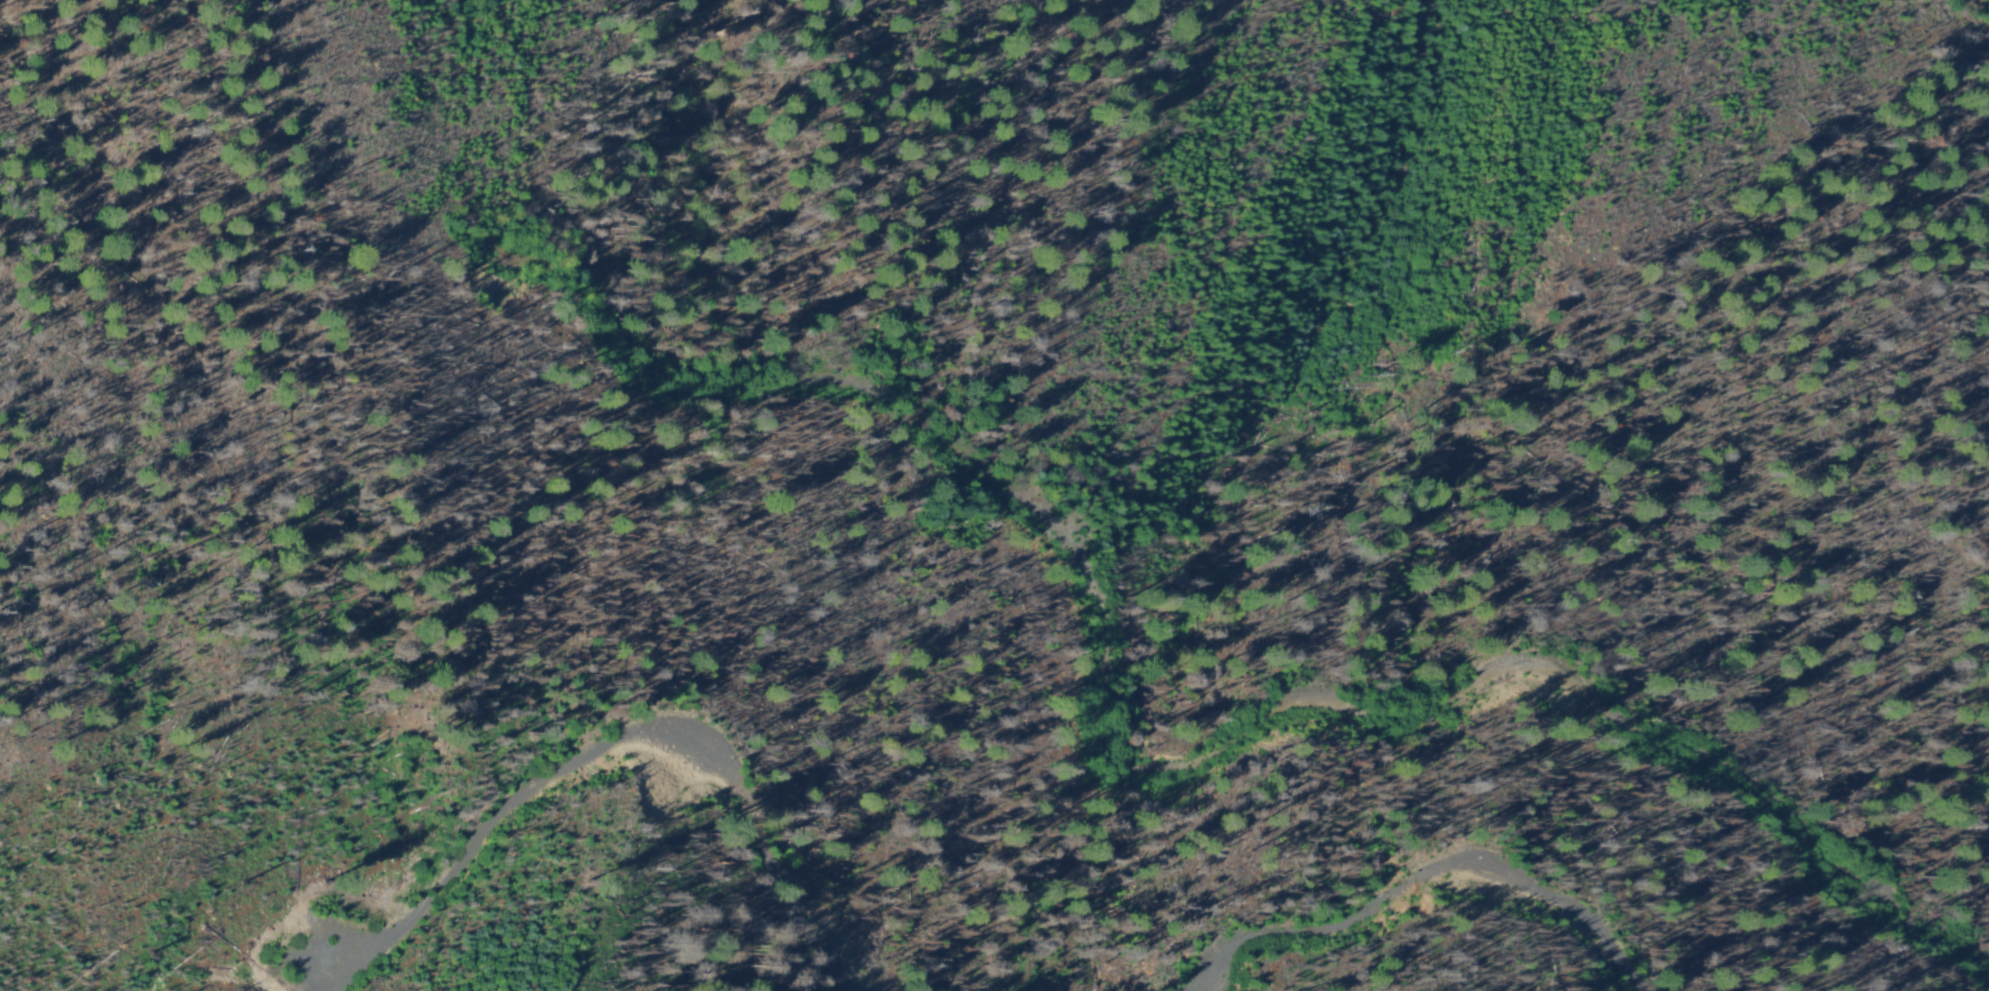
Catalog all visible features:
road: (1983, 1)

